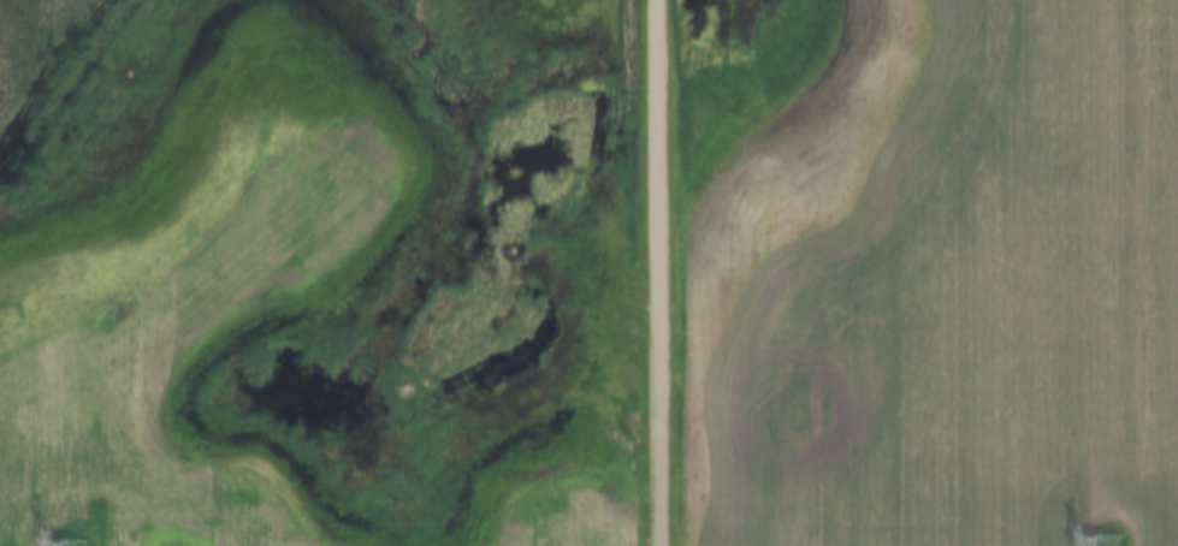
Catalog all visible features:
road: (653, 273)
power tower: (1105, 542)
power tower: (72, 545)

